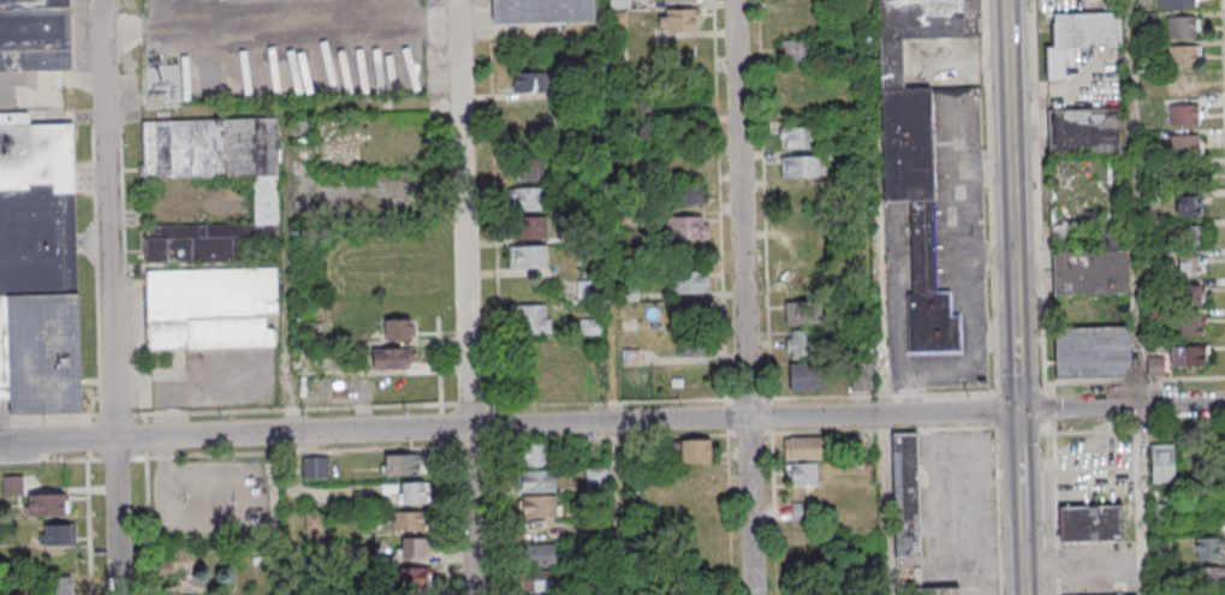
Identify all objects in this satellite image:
building: (679, 1)
building: (619, 4)
building: (1177, 4)
building: (537, 7)
building: (680, 19)
building: (618, 23)
building: (1182, 28)
building: (35, 35)
building: (1080, 38)
building: (678, 49)
building: (795, 52)
building: (1182, 55)
building: (530, 81)
building: (1185, 87)
road: (280, 108)
building: (1184, 117)
building: (1084, 131)
building: (799, 138)
road: (1007, 142)
building: (1185, 150)
building: (918, 155)
building: (798, 167)
building: (529, 168)
building: (690, 194)
building: (530, 197)
building: (266, 200)
road: (1134, 203)
building: (1185, 204)
road: (106, 219)
building: (688, 227)
building: (531, 228)
building: (1181, 234)
road: (964, 237)
building: (528, 256)
road: (989, 260)
building: (1184, 266)
building: (38, 267)
building: (1090, 273)
building: (690, 280)
building: (1188, 296)
road: (464, 297)
road: (613, 297)
road: (742, 297)
road: (881, 297)
building: (210, 308)
building: (694, 311)
building: (796, 313)
building: (534, 319)
building: (590, 323)
building: (1190, 327)
building: (398, 328)
building: (801, 344)
building: (694, 345)
road: (1015, 346)
road: (291, 351)
building: (1092, 352)
building: (1187, 356)
building: (391, 357)
building: (1155, 365)
road: (950, 367)
building: (862, 375)
building: (804, 376)
traffic signals: (1017, 411)
road: (612, 422)
building: (802, 448)
building: (694, 451)
building: (536, 453)
building: (1161, 463)
building: (403, 464)
building: (802, 475)
road: (1018, 476)
building: (12, 484)
building: (410, 492)
building: (537, 494)
building: (905, 495)
road: (1141, 500)
building: (48, 504)
building: (804, 513)
road: (115, 517)
building: (406, 520)
building: (1092, 523)
road: (1184, 523)
building: (57, 534)
building: (414, 547)
building: (1208, 548)
building: (540, 567)
road: (1022, 567)
building: (1203, 577)
building: (60, 583)
building: (410, 584)

